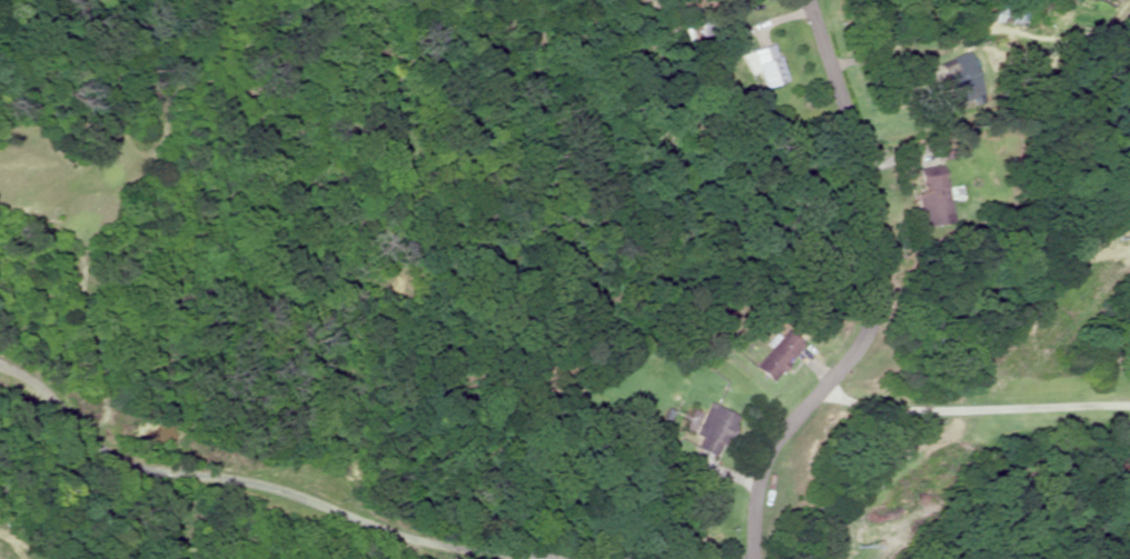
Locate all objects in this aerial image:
building: (684, 1)
building: (999, 11)
building: (765, 66)
building: (956, 79)
building: (930, 194)
power tower: (1107, 243)
road: (634, 268)
road: (885, 270)
building: (773, 356)
building: (712, 432)
power tower: (861, 532)
road: (764, 533)

